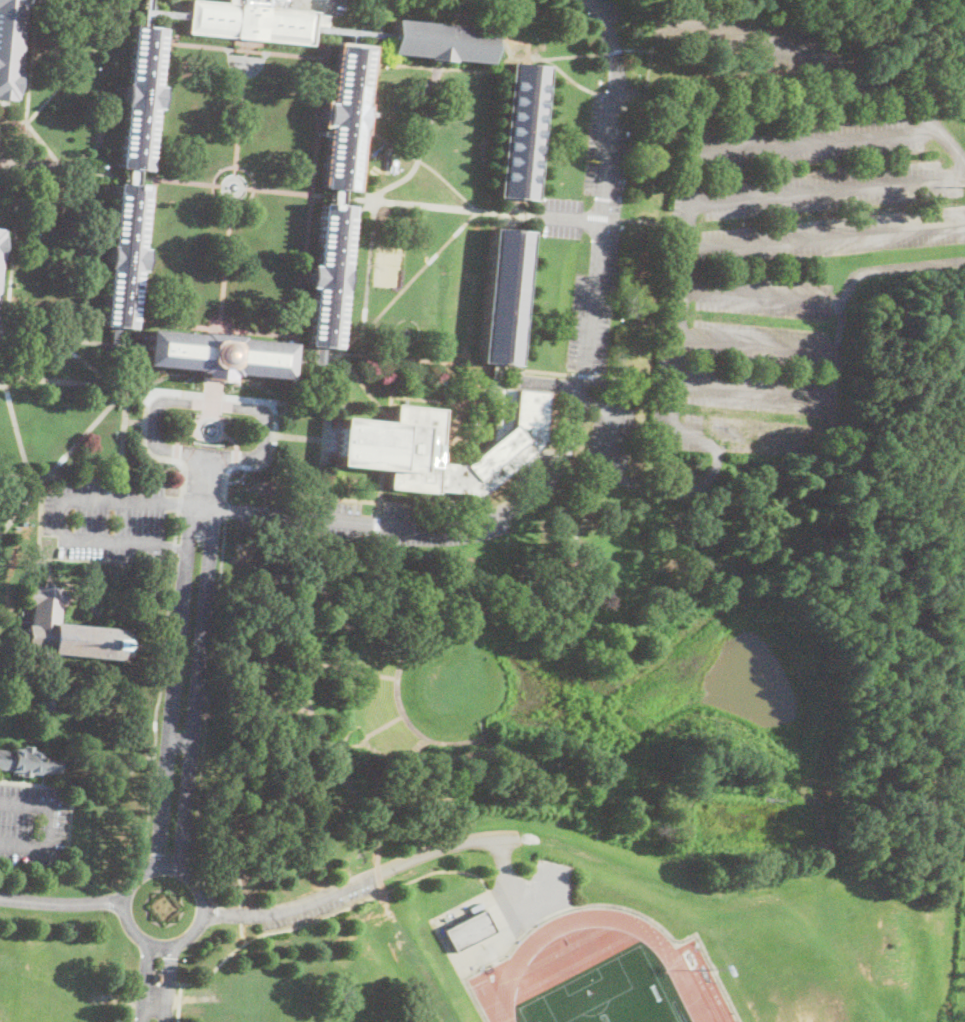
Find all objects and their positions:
road: (325, 2)
road: (101, 6)
parking lot: (601, 10)
building: (251, 20)
building: (344, 29)
building: (440, 42)
road: (766, 42)
road: (326, 45)
road: (207, 46)
building: (9, 47)
road: (614, 50)
road: (77, 66)
road: (492, 66)
road: (322, 86)
building: (139, 97)
road: (788, 101)
road: (924, 103)
road: (240, 113)
building: (343, 118)
road: (745, 127)
building: (519, 132)
road: (421, 142)
road: (946, 148)
road: (423, 163)
road: (242, 168)
road: (63, 169)
road: (180, 180)
road: (18, 187)
road: (39, 189)
road: (827, 189)
road: (233, 194)
road: (389, 201)
road: (223, 204)
road: (152, 207)
road: (568, 218)
parking lot: (593, 235)
road: (824, 238)
building: (1, 243)
building: (124, 255)
road: (226, 261)
road: (370, 266)
parking lot: (790, 269)
road: (304, 275)
building: (328, 276)
road: (409, 282)
building: (504, 297)
road: (762, 301)
road: (259, 332)
road: (758, 345)
building: (217, 355)
road: (0, 375)
road: (0, 376)
building: (504, 376)
road: (555, 386)
road: (142, 388)
road: (122, 390)
road: (753, 393)
road: (212, 394)
road: (140, 395)
road: (670, 395)
road: (211, 404)
road: (133, 421)
road: (16, 426)
road: (121, 433)
parking lot: (610, 438)
building: (498, 444)
road: (566, 445)
building: (396, 447)
road: (16, 474)
road: (100, 478)
road: (631, 482)
road: (179, 503)
road: (22, 504)
road: (224, 507)
road: (60, 512)
parking lot: (105, 519)
road: (38, 522)
parking lot: (372, 523)
road: (176, 526)
road: (173, 546)
road: (94, 560)
building: (66, 631)
road: (171, 685)
road: (194, 688)
road: (208, 692)
park: (402, 695)
building: (46, 704)
park: (63, 705)
road: (155, 707)
road: (177, 745)
building: (547, 751)
building: (590, 761)
building: (28, 762)
parking lot: (31, 823)
road: (47, 825)
road: (232, 865)
road: (157, 867)
road: (506, 879)
road: (362, 880)
parking lot: (533, 894)
road: (61, 902)
parking lot: (314, 907)
road: (241, 915)
road: (274, 930)
building: (468, 930)
road: (241, 932)
track: (541, 964)
building: (157, 978)
road: (144, 982)
road: (167, 983)
park: (603, 996)
road: (178, 1002)
road: (154, 1003)

